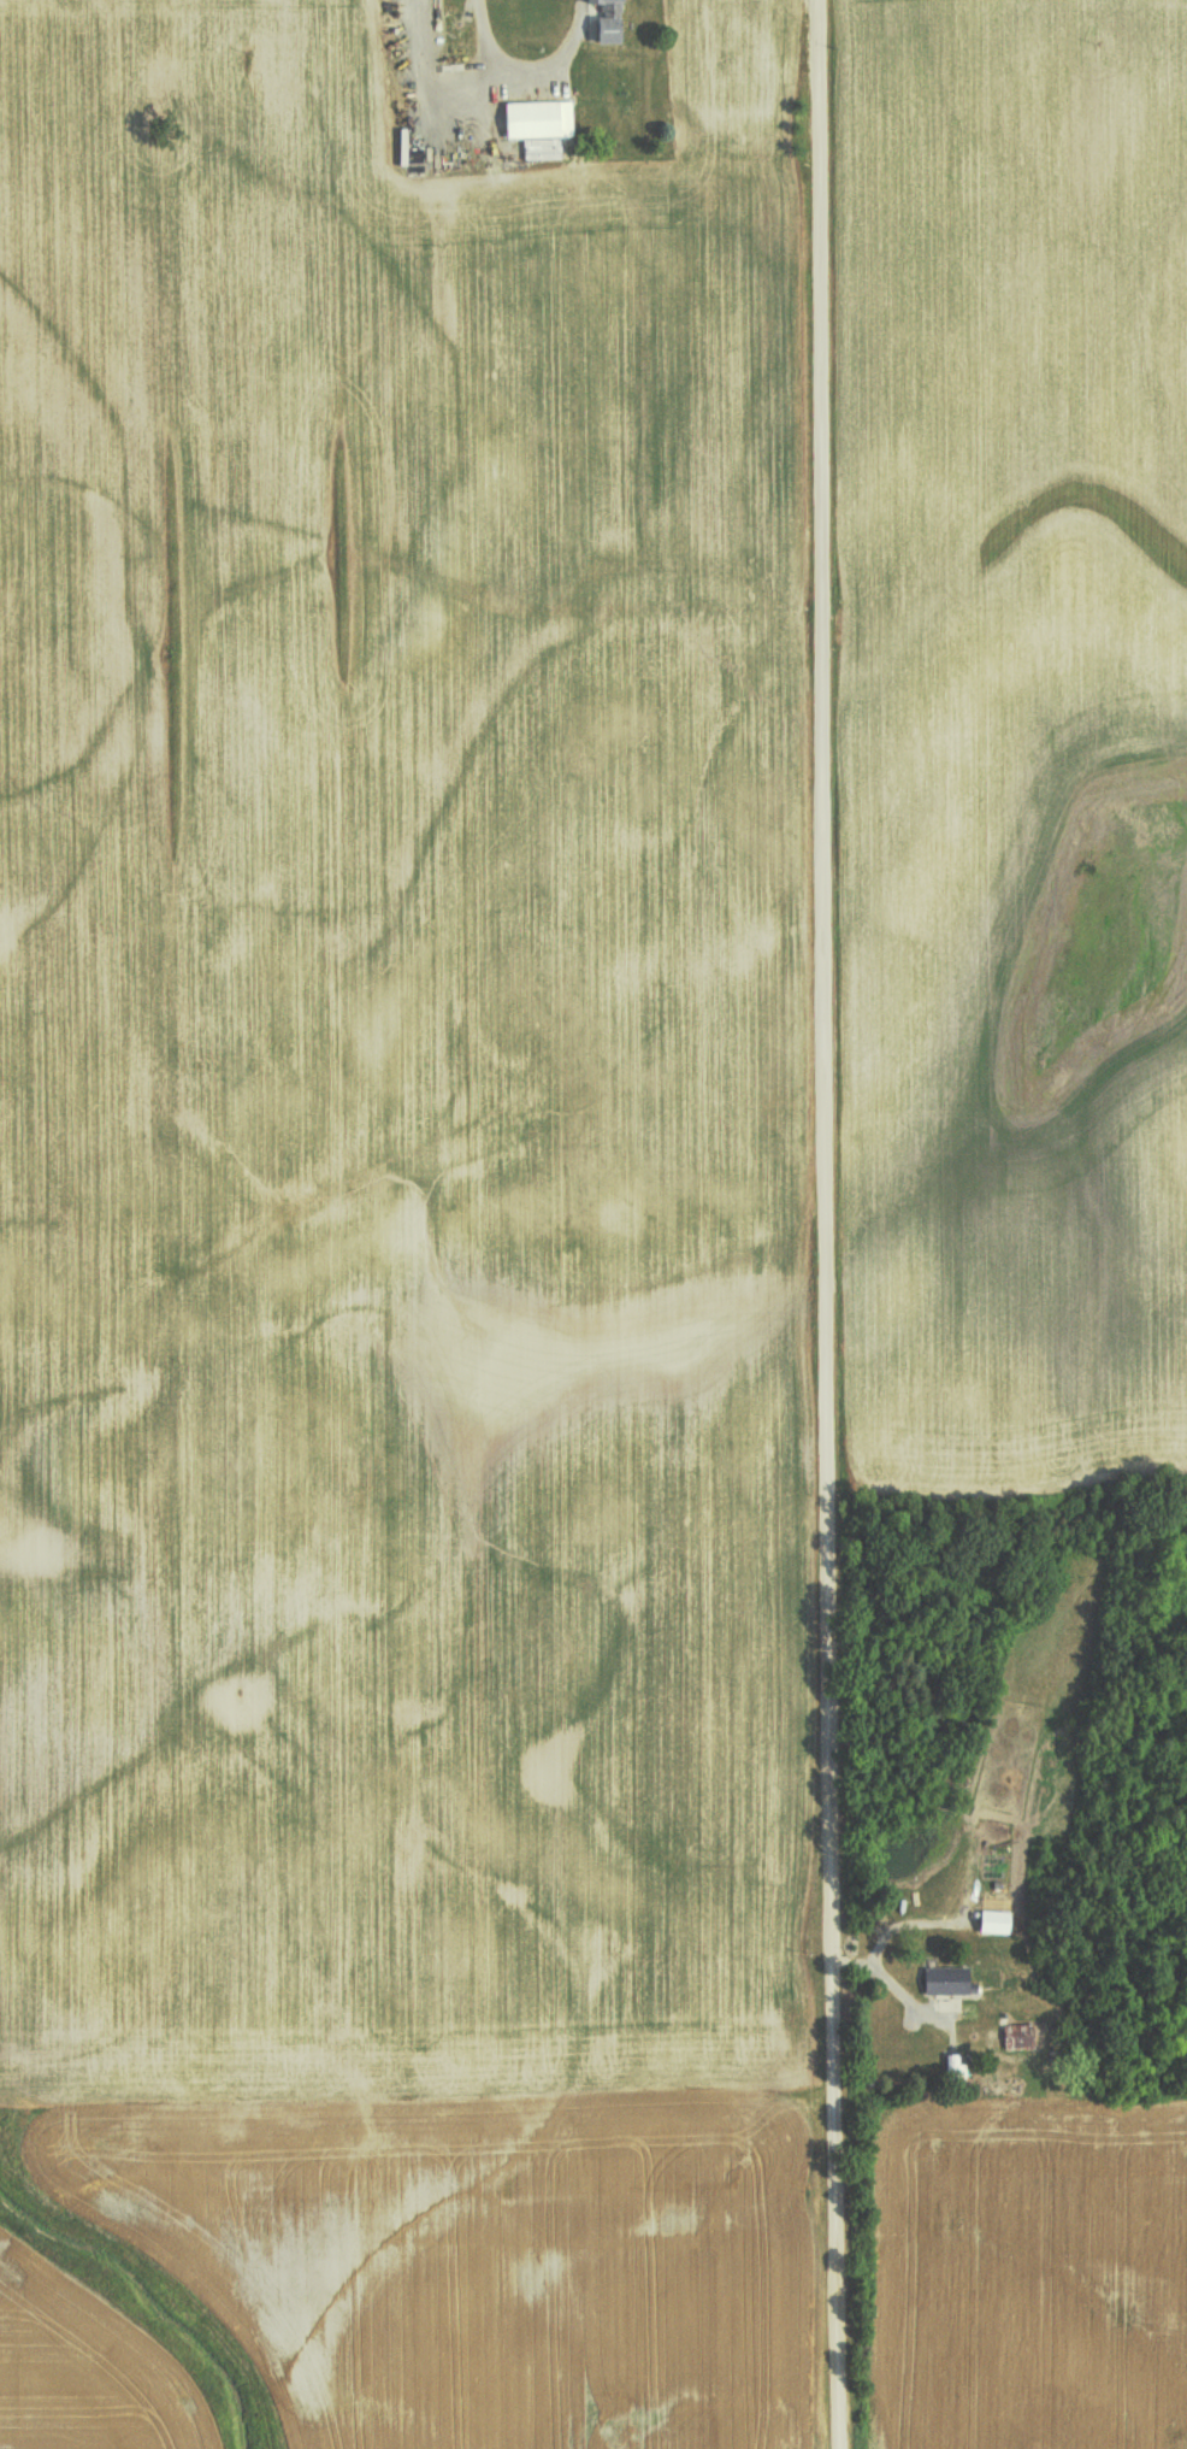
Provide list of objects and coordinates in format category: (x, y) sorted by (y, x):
building: (608, 19)
building: (537, 118)
road: (826, 1224)
building: (993, 1920)
building: (945, 1978)
building: (955, 2066)

